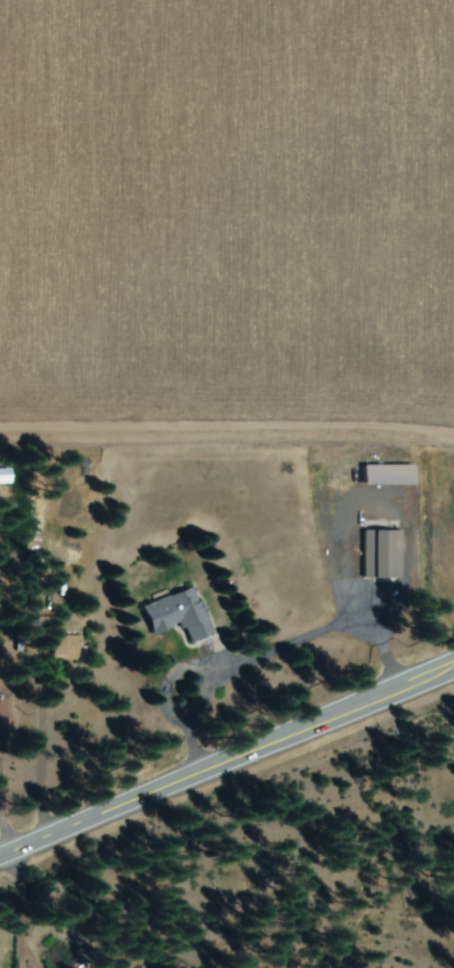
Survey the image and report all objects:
building: (383, 475)
building: (3, 477)
building: (381, 555)
building: (175, 615)
building: (63, 648)
road: (227, 765)

